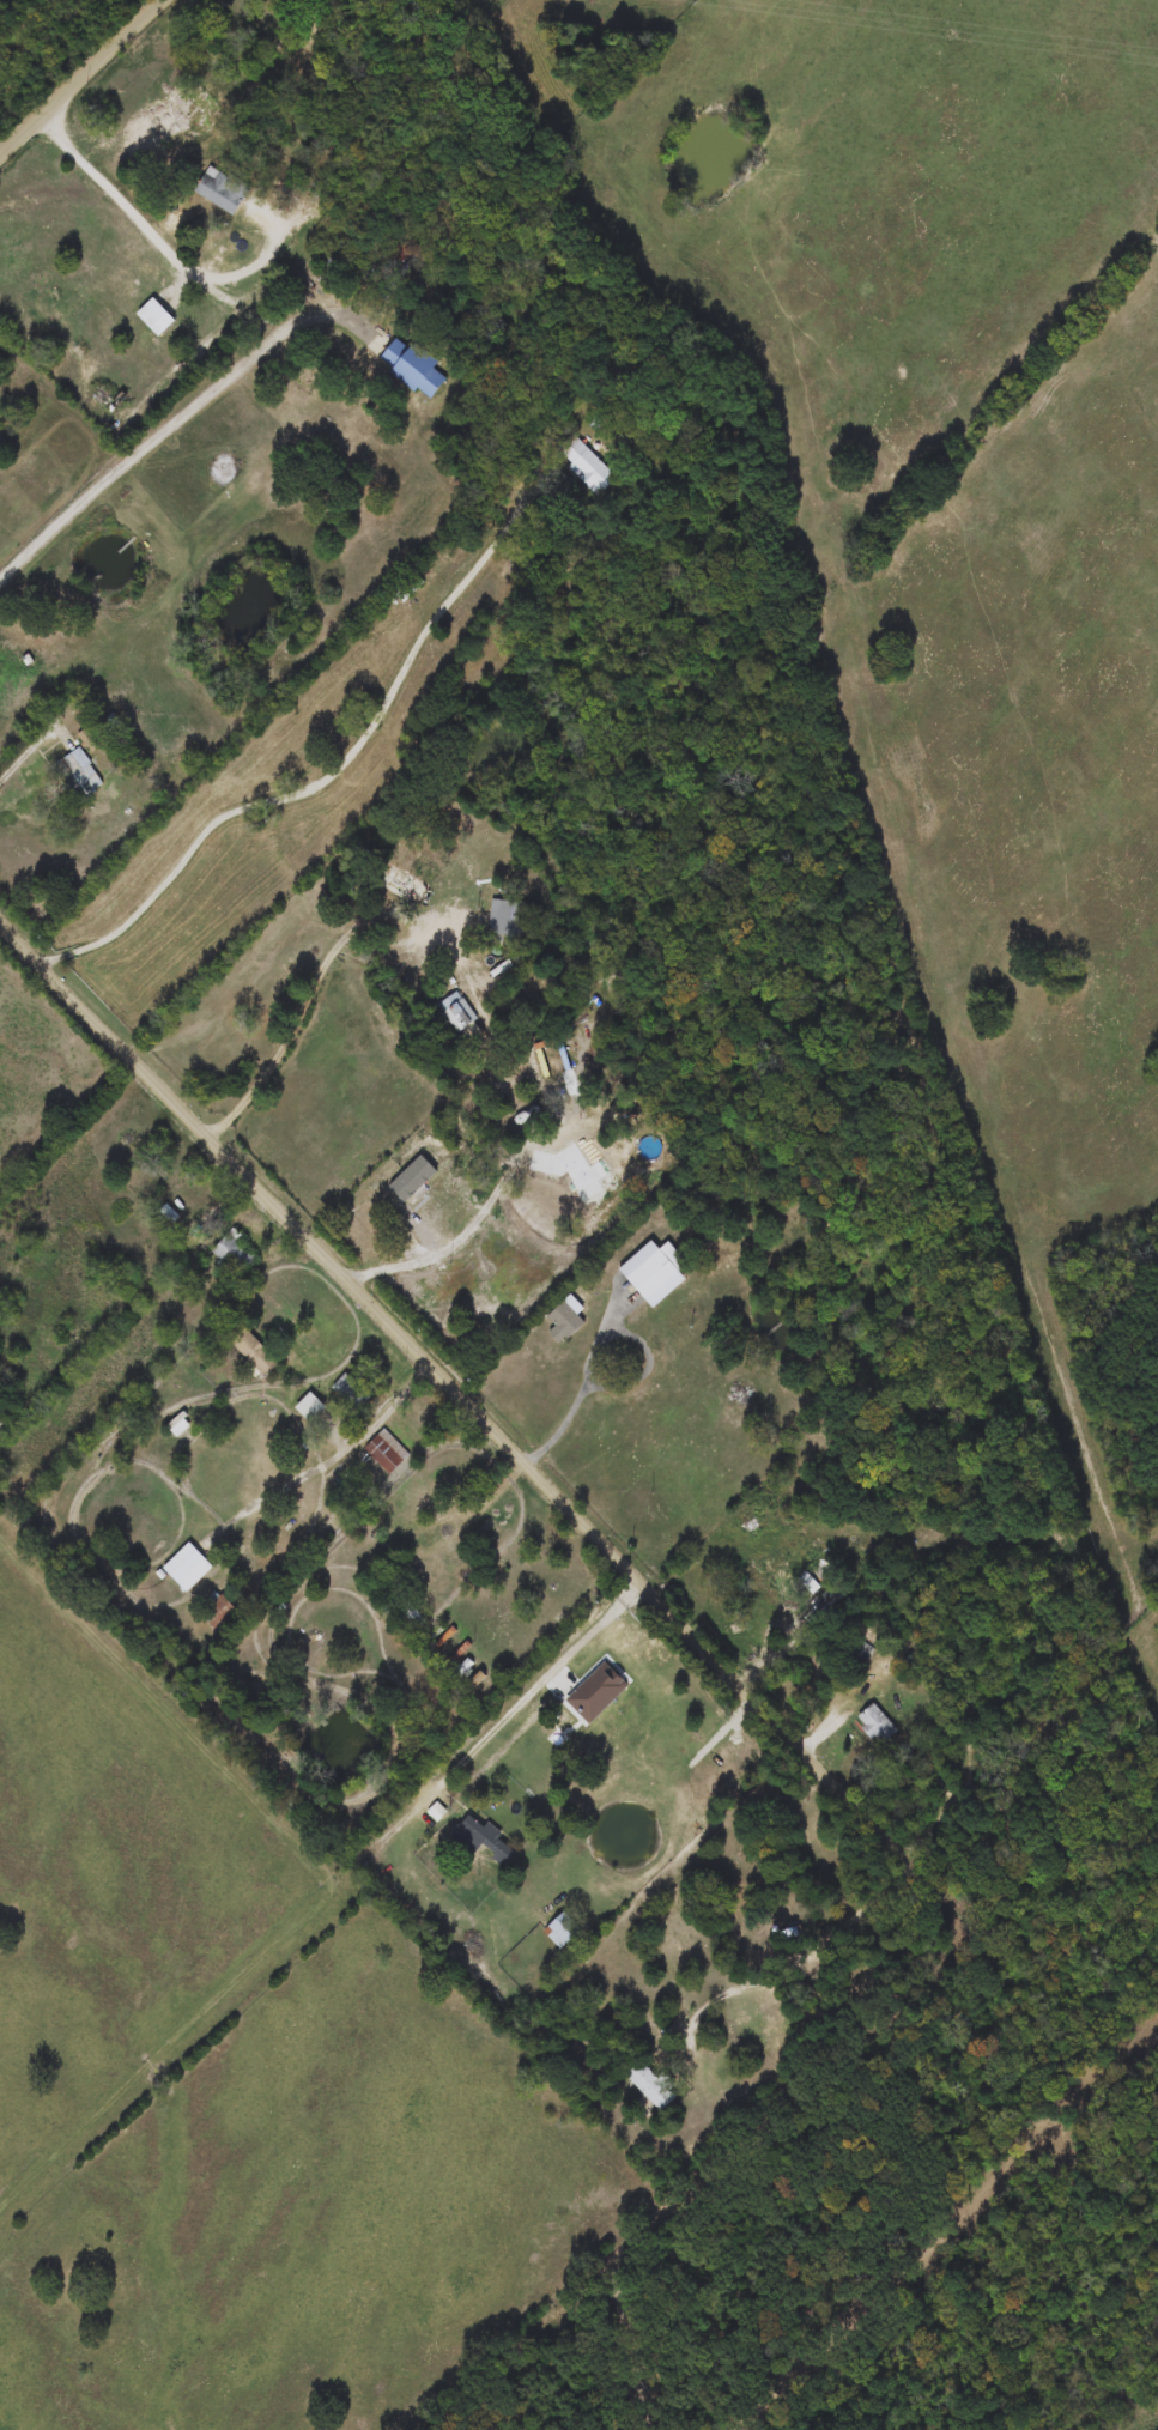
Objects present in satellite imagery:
road: (80, 79)
building: (222, 190)
road: (180, 256)
road: (316, 315)
building: (413, 366)
building: (587, 465)
road: (128, 468)
building: (410, 588)
road: (32, 744)
road: (331, 772)
building: (81, 774)
building: (401, 883)
building: (457, 1011)
road: (285, 1043)
road: (480, 1220)
building: (235, 1255)
building: (657, 1272)
building: (566, 1319)
road: (413, 1341)
building: (255, 1352)
building: (352, 1392)
building: (311, 1408)
road: (380, 1413)
building: (180, 1425)
road: (560, 1426)
building: (388, 1452)
road: (267, 1501)
building: (189, 1568)
building: (764, 1587)
building: (219, 1613)
road: (793, 1637)
road: (541, 1684)
building: (877, 1723)
building: (483, 1840)
road: (970, 1913)
building: (564, 1931)
building: (653, 2085)

